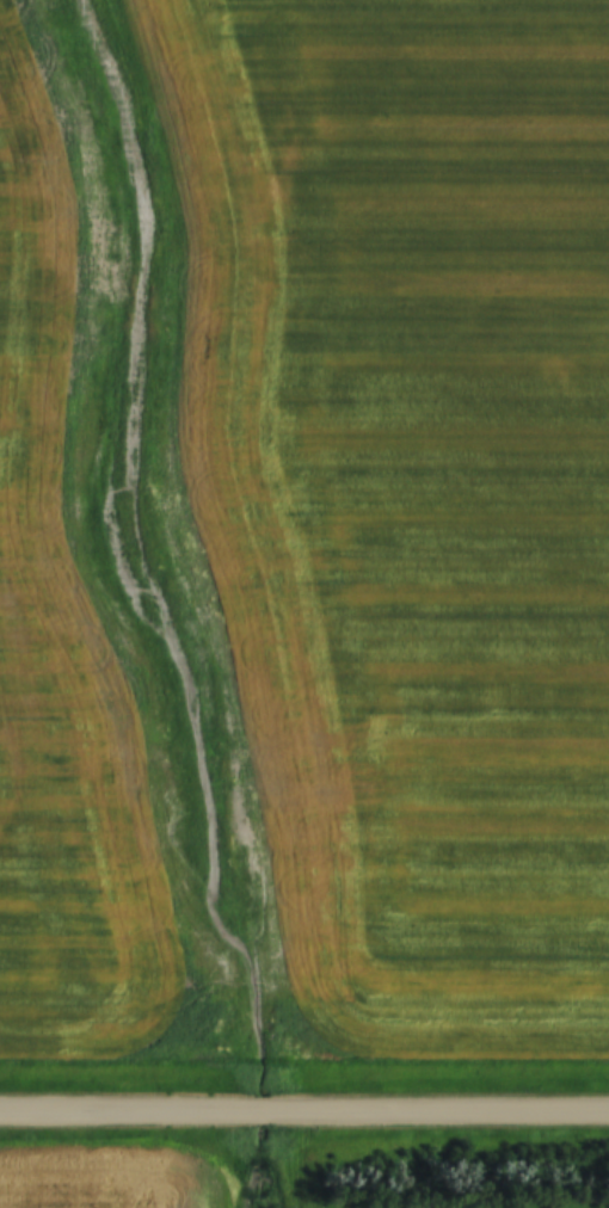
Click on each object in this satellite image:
road: (304, 1116)

